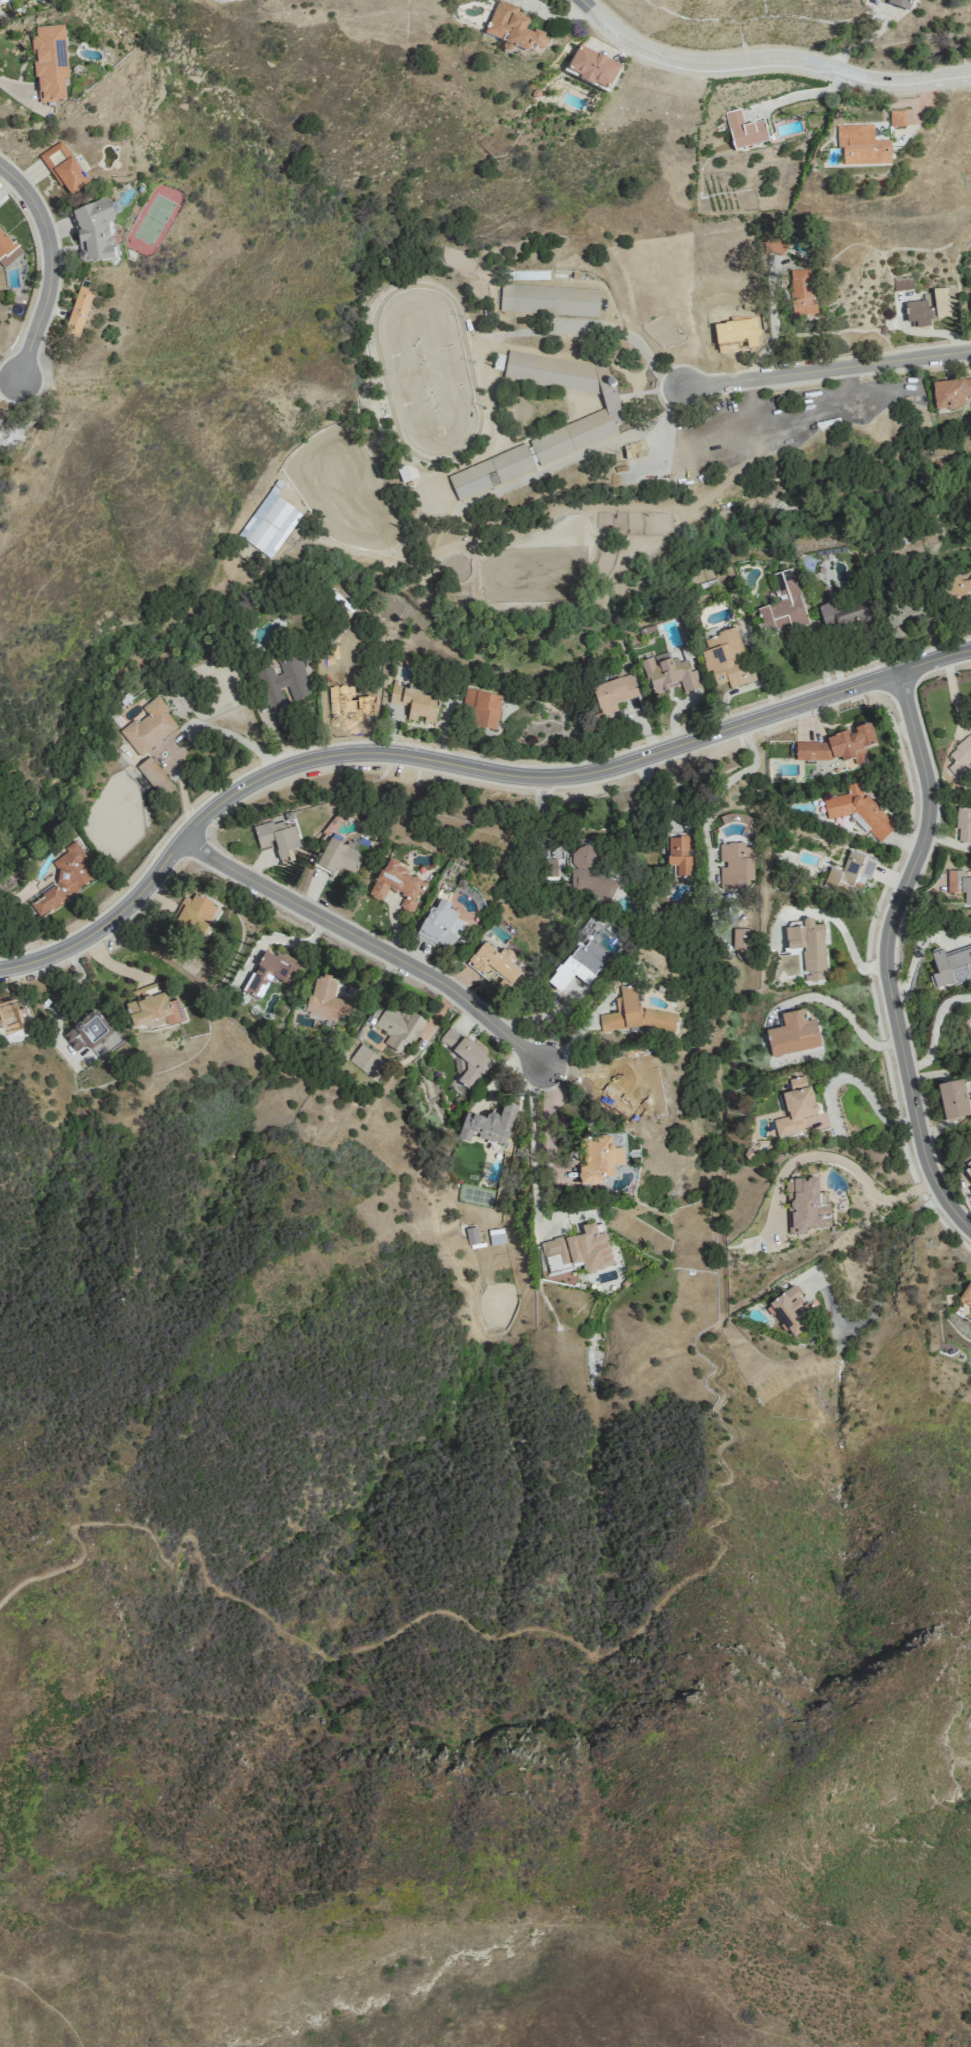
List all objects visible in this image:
building: (4, 1)
building: (901, 4)
building: (513, 29)
road: (768, 59)
building: (50, 62)
building: (594, 68)
road: (18, 91)
building: (897, 118)
building: (745, 130)
building: (862, 145)
building: (63, 168)
building: (93, 231)
building: (5, 244)
road: (53, 265)
building: (801, 292)
building: (970, 297)
building: (549, 299)
building: (928, 308)
building: (78, 313)
road: (630, 338)
road: (768, 345)
road: (827, 369)
building: (950, 394)
building: (610, 401)
building: (2, 422)
building: (0, 439)
building: (634, 448)
road: (584, 451)
building: (269, 522)
building: (958, 587)
building: (783, 604)
building: (842, 613)
building: (905, 615)
building: (726, 658)
building: (670, 674)
building: (283, 686)
building: (613, 694)
building: (414, 702)
building: (482, 707)
building: (149, 726)
building: (839, 746)
road: (457, 764)
building: (155, 776)
road: (717, 791)
building: (859, 810)
building: (964, 824)
building: (277, 838)
building: (679, 853)
building: (339, 857)
building: (736, 863)
building: (851, 870)
building: (590, 874)
building: (66, 878)
building: (396, 884)
building: (960, 884)
building: (194, 914)
building: (440, 926)
road: (841, 927)
road: (277, 938)
building: (741, 938)
road: (370, 943)
building: (809, 948)
road: (887, 954)
road: (916, 955)
building: (493, 962)
building: (578, 965)
building: (951, 965)
building: (270, 972)
building: (501, 985)
building: (326, 999)
building: (152, 1006)
road: (840, 1007)
building: (634, 1013)
building: (396, 1026)
road: (937, 1030)
building: (88, 1031)
building: (793, 1034)
building: (365, 1060)
building: (465, 1060)
road: (864, 1086)
building: (953, 1098)
building: (795, 1106)
building: (488, 1124)
road: (547, 1128)
road: (536, 1156)
building: (596, 1159)
road: (843, 1160)
building: (968, 1171)
building: (806, 1205)
building: (472, 1235)
building: (496, 1236)
building: (578, 1250)
road: (883, 1286)
building: (966, 1294)
building: (790, 1311)
road: (720, 1556)
road: (46, 2003)

